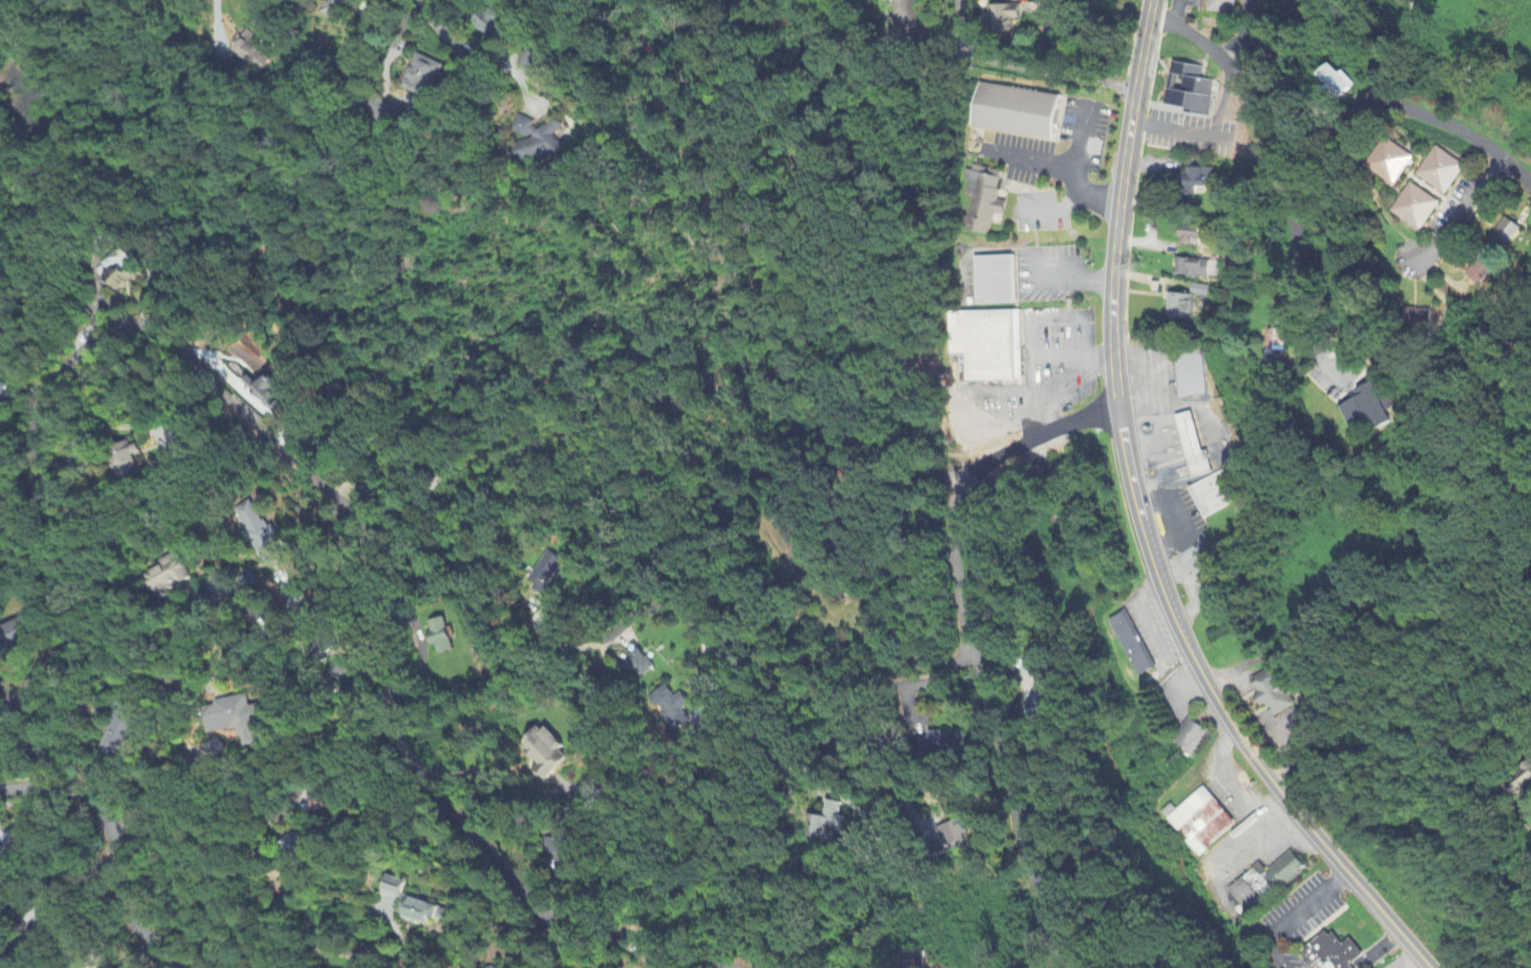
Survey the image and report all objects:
building: (1226, 5)
road: (218, 22)
road: (471, 41)
road: (1025, 68)
building: (1020, 110)
road: (413, 111)
road: (1205, 136)
road: (1462, 215)
building: (998, 279)
road: (1334, 322)
park: (717, 337)
building: (988, 341)
road: (1035, 355)
road: (244, 414)
road: (960, 419)
road: (1141, 525)
road: (812, 533)
road: (966, 644)
road: (109, 652)
road: (744, 655)
building: (670, 709)
building: (238, 719)
road: (769, 730)
building: (122, 732)
building: (1190, 736)
building: (939, 746)
building: (223, 750)
building: (544, 753)
road: (876, 760)
building: (319, 804)
road: (277, 814)
building: (1200, 821)
building: (825, 823)
building: (955, 833)
building: (304, 845)
road: (111, 851)
road: (1124, 857)
building: (1264, 883)
building: (414, 904)
road: (226, 918)
road: (629, 937)
building: (1330, 953)
building: (910, 959)
building: (658, 966)

